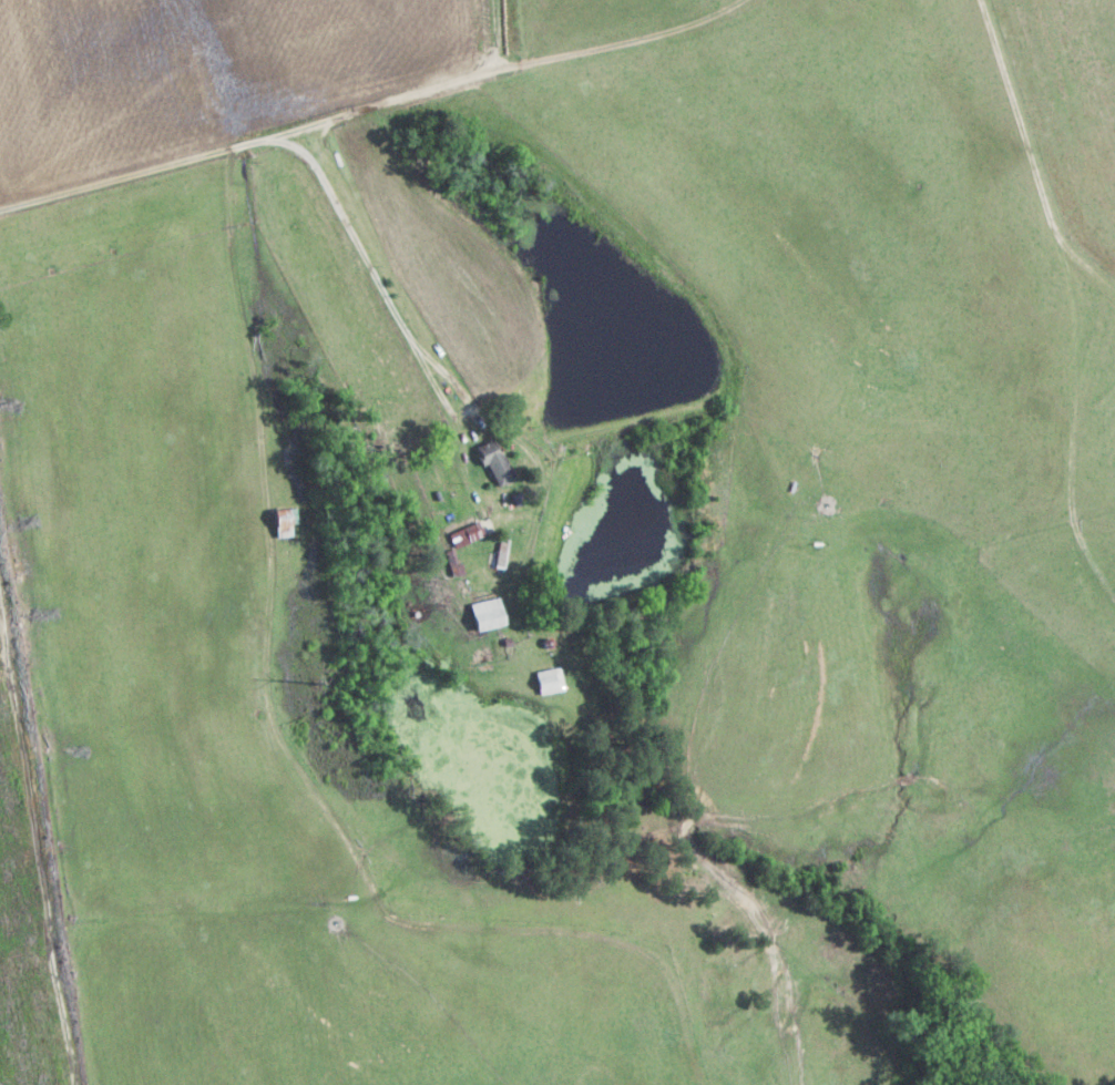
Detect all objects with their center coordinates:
road: (618, 52)
road: (635, 444)
building: (492, 469)
building: (280, 523)
building: (462, 538)
building: (483, 616)
building: (545, 680)

